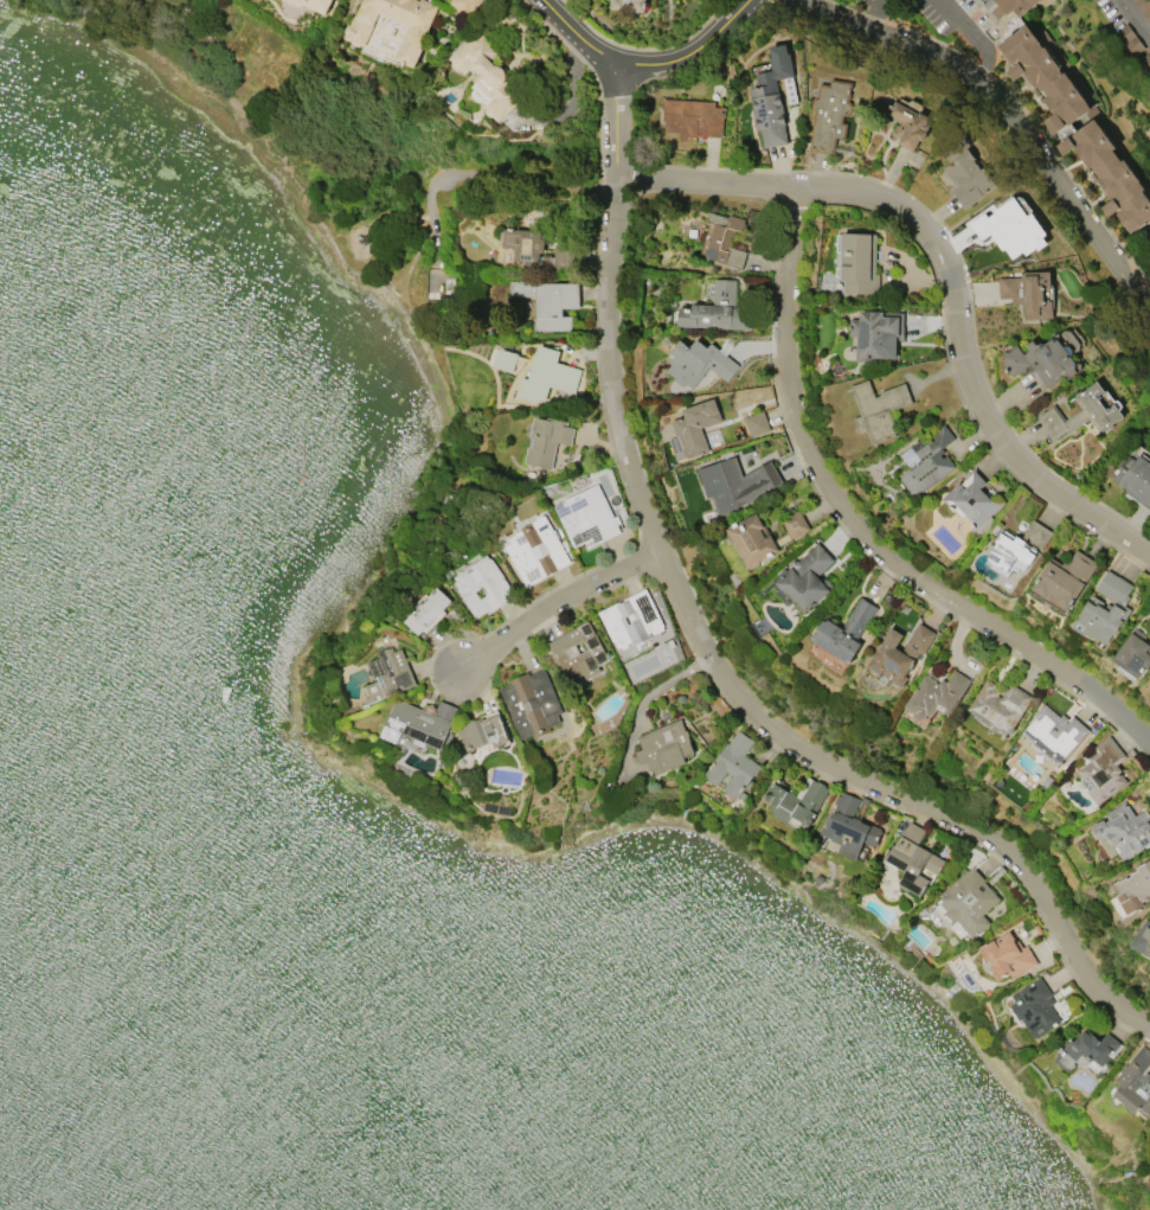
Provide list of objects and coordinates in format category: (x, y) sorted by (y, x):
building: (847, 0)
building: (983, 0)
building: (989, 0)
road: (744, 1)
building: (313, 4)
building: (637, 5)
building: (464, 6)
building: (1011, 7)
building: (1144, 7)
road: (873, 11)
road: (1141, 13)
road: (964, 25)
building: (392, 27)
road: (643, 63)
road: (593, 75)
building: (483, 76)
building: (1048, 76)
building: (772, 96)
road: (1006, 113)
building: (830, 115)
building: (692, 117)
road: (615, 122)
building: (910, 126)
building: (965, 172)
building: (1111, 174)
road: (492, 175)
road: (397, 199)
park: (384, 205)
building: (1011, 229)
building: (725, 239)
building: (535, 248)
building: (859, 263)
building: (1027, 293)
building: (554, 305)
building: (717, 308)
building: (876, 334)
road: (611, 352)
building: (506, 360)
building: (1042, 360)
building: (699, 363)
building: (547, 376)
building: (878, 409)
building: (1081, 412)
building: (757, 423)
building: (693, 429)
building: (547, 440)
building: (926, 460)
building: (1135, 478)
building: (735, 484)
building: (972, 500)
building: (586, 517)
building: (794, 523)
road: (857, 526)
building: (752, 539)
building: (1016, 549)
building: (535, 550)
building: (807, 578)
building: (1064, 578)
building: (482, 587)
road: (554, 602)
building: (1104, 608)
building: (426, 610)
building: (631, 619)
building: (844, 630)
building: (578, 651)
building: (1133, 653)
building: (899, 654)
building: (388, 674)
building: (936, 694)
building: (531, 703)
building: (998, 705)
building: (445, 710)
building: (413, 725)
building: (482, 731)
building: (1055, 731)
building: (663, 747)
building: (733, 764)
building: (1101, 769)
building: (796, 804)
building: (848, 826)
building: (1124, 828)
building: (913, 858)
building: (1133, 888)
building: (968, 902)
building: (1142, 937)
building: (1007, 955)
building: (1035, 1006)
building: (1086, 1050)
building: (1135, 1081)

